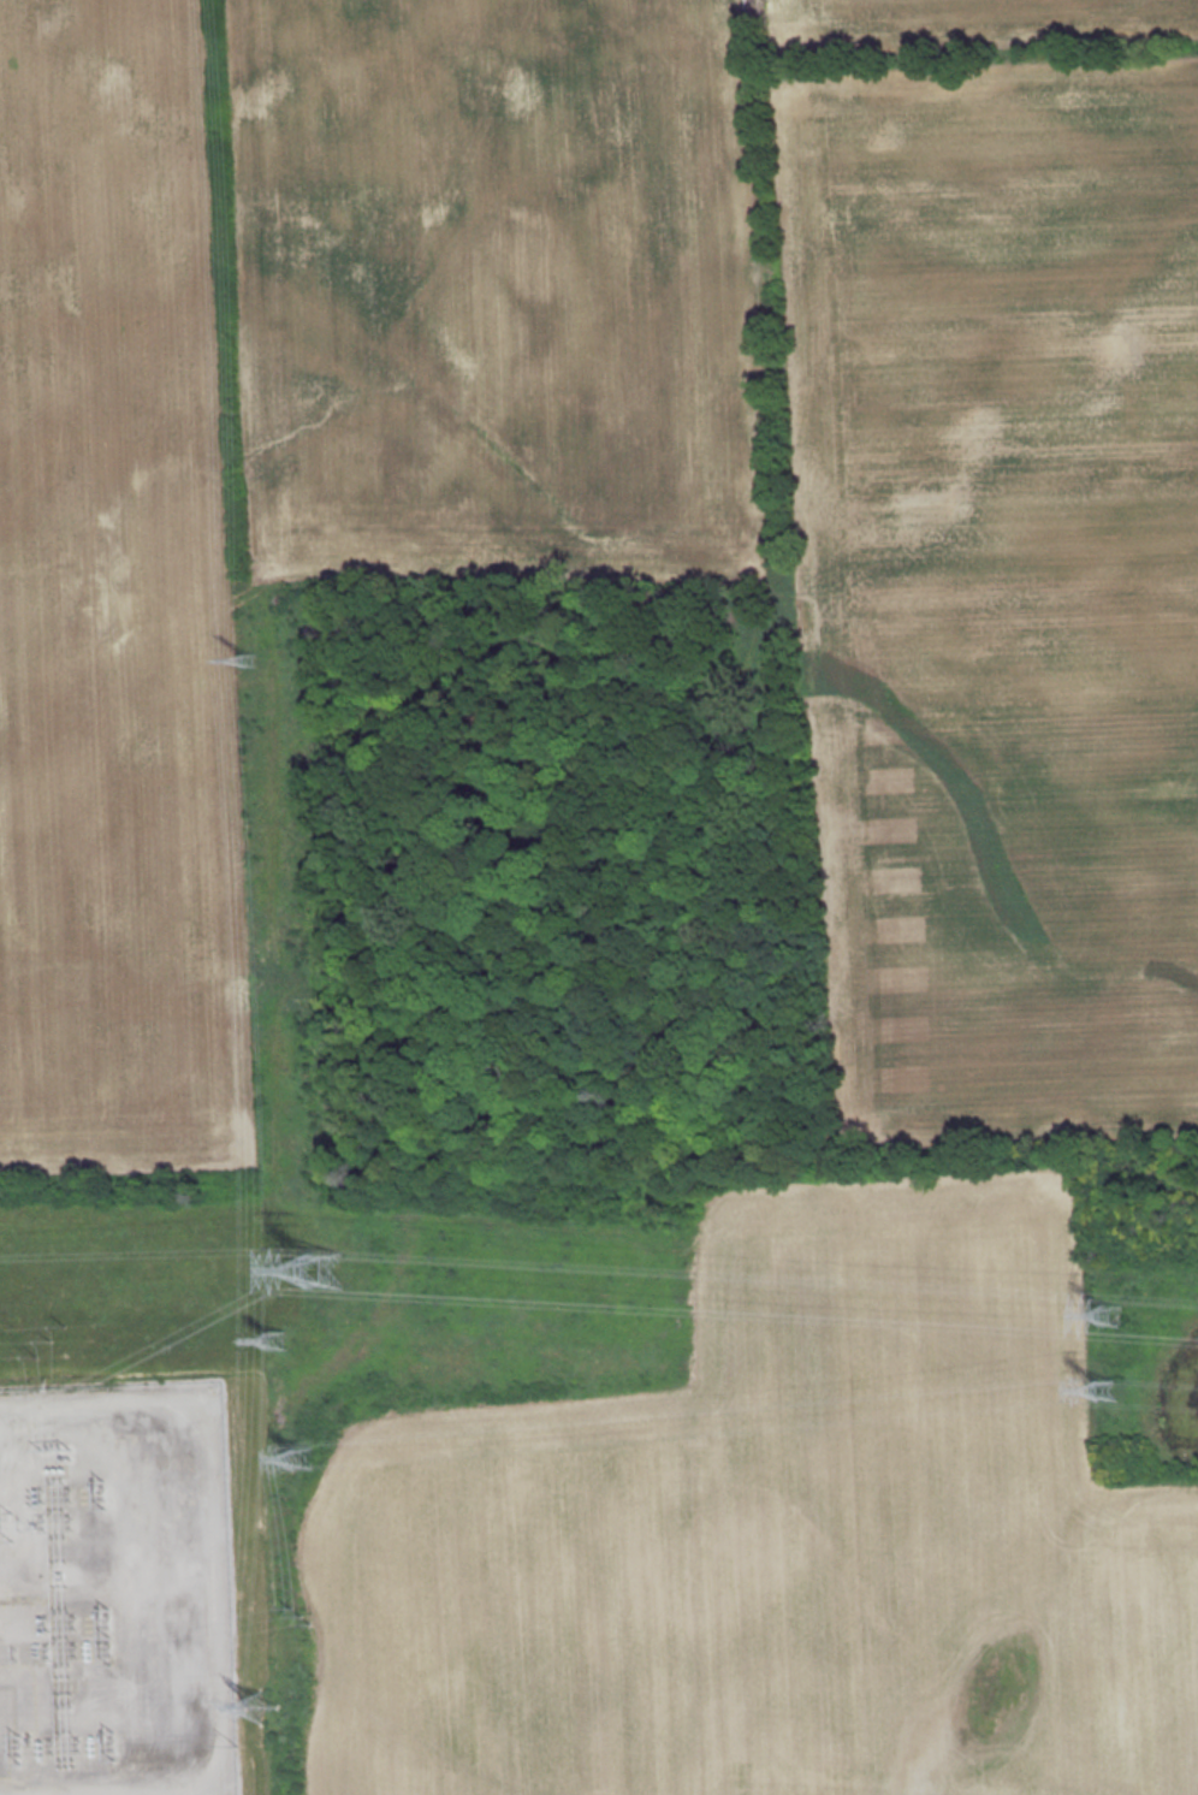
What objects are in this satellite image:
power tower: (247, 662)
power tower: (325, 1268)
power tower: (1109, 1314)
power tower: (268, 1344)
power tower: (1105, 1390)
power tower: (306, 1456)
road: (207, 1580)
power substation: (115, 1590)
power tower: (297, 1616)
power tower: (263, 1706)

